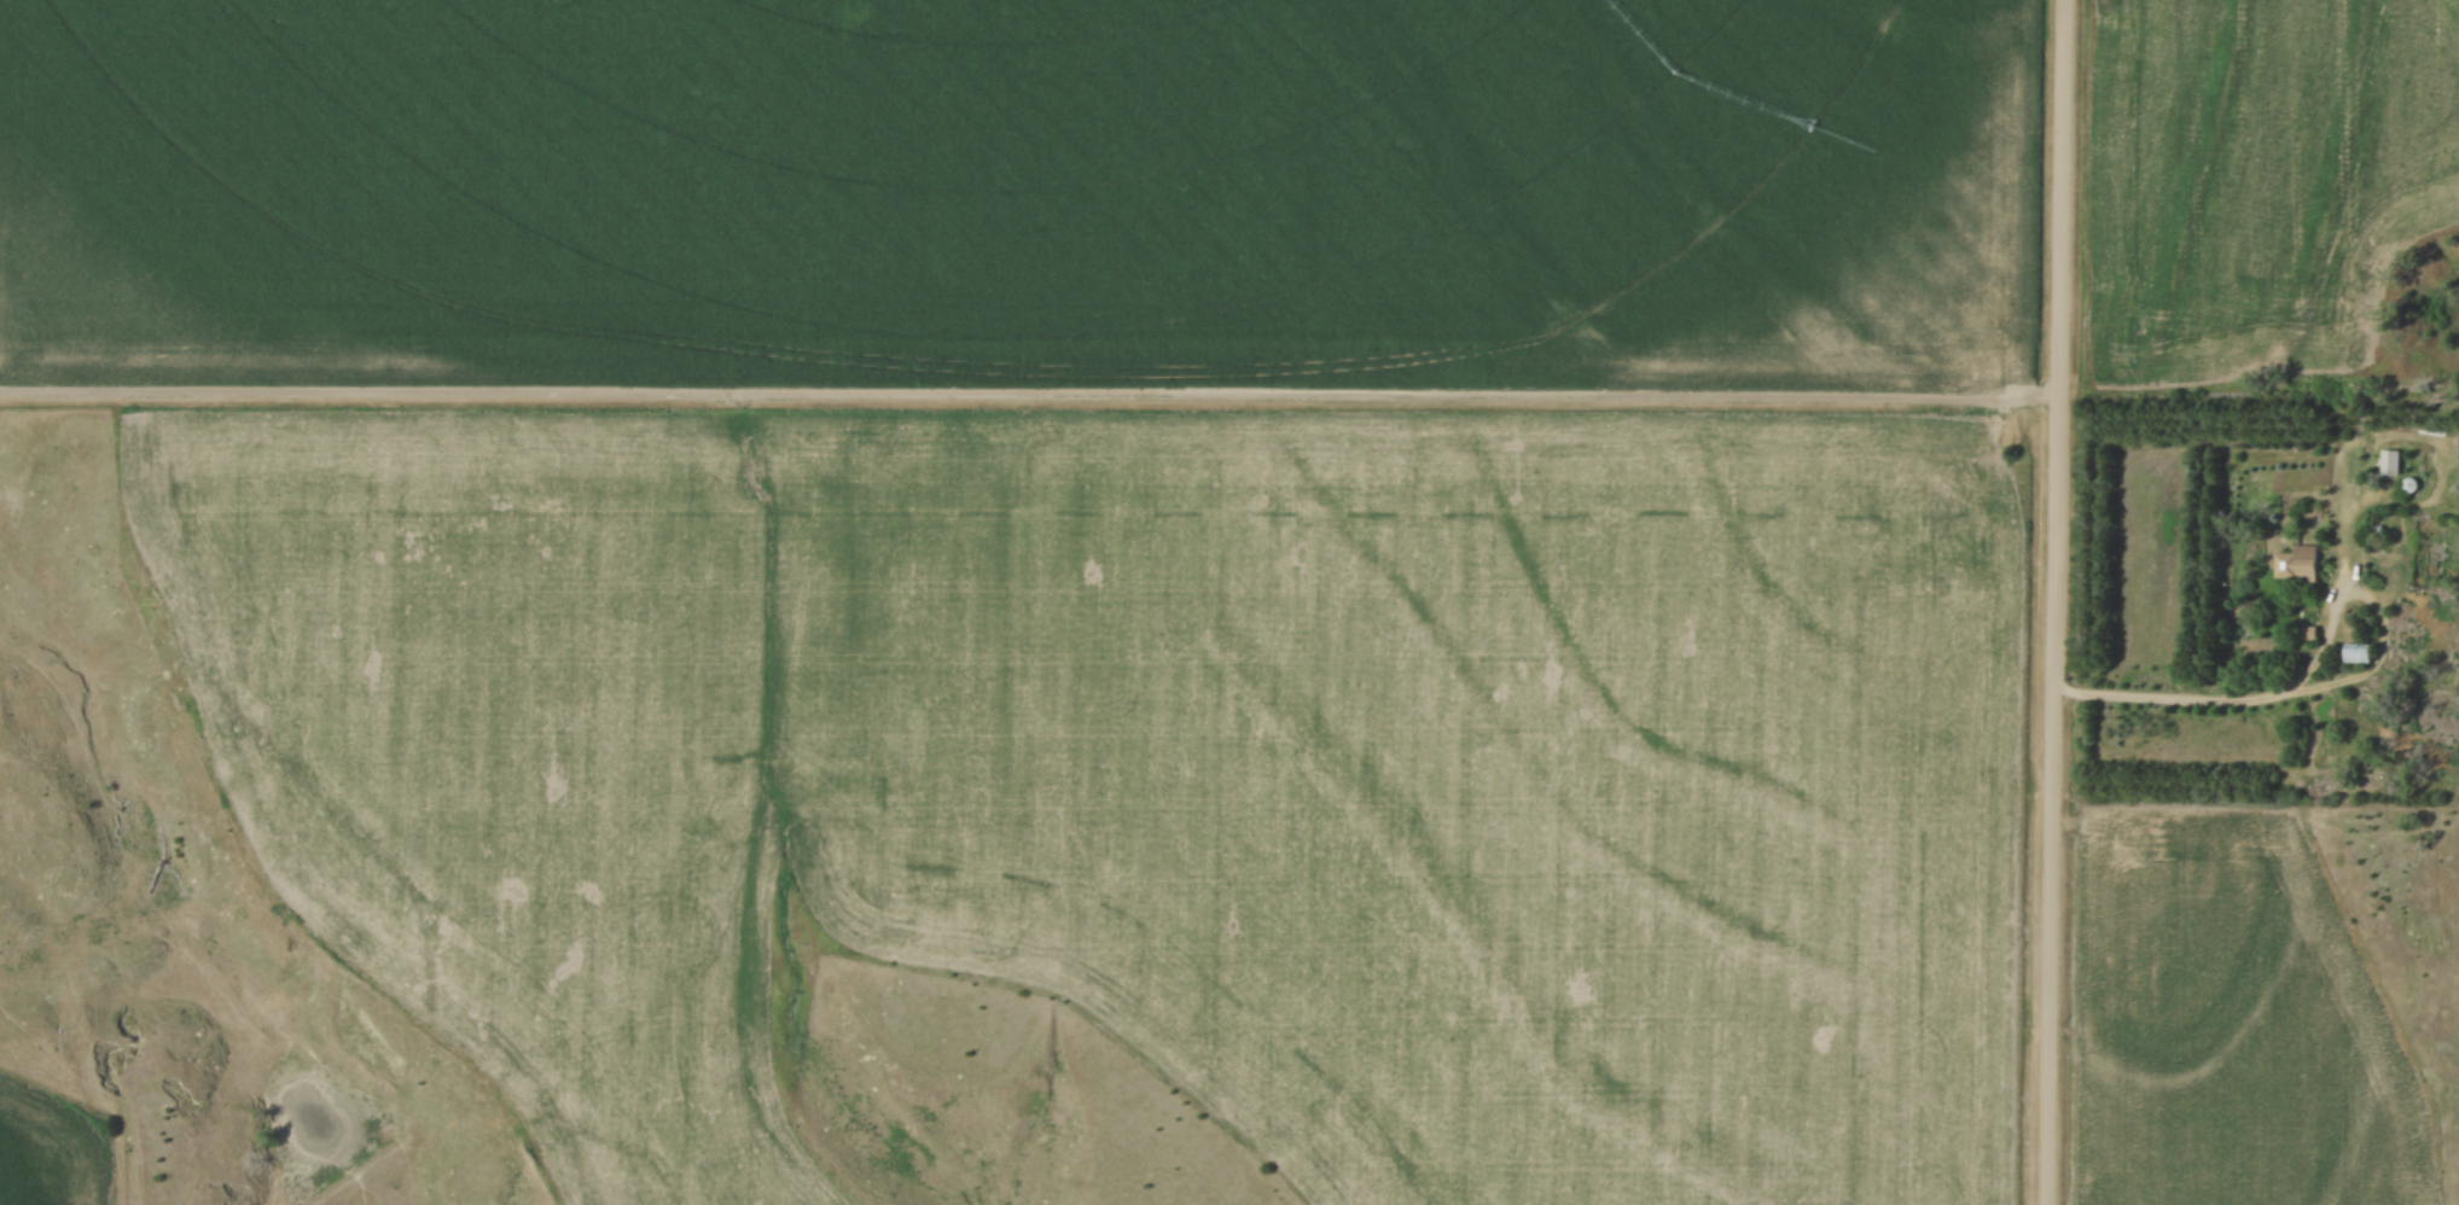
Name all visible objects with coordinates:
building: (2387, 461)
building: (2294, 564)
road: (2053, 601)
road: (2246, 698)

